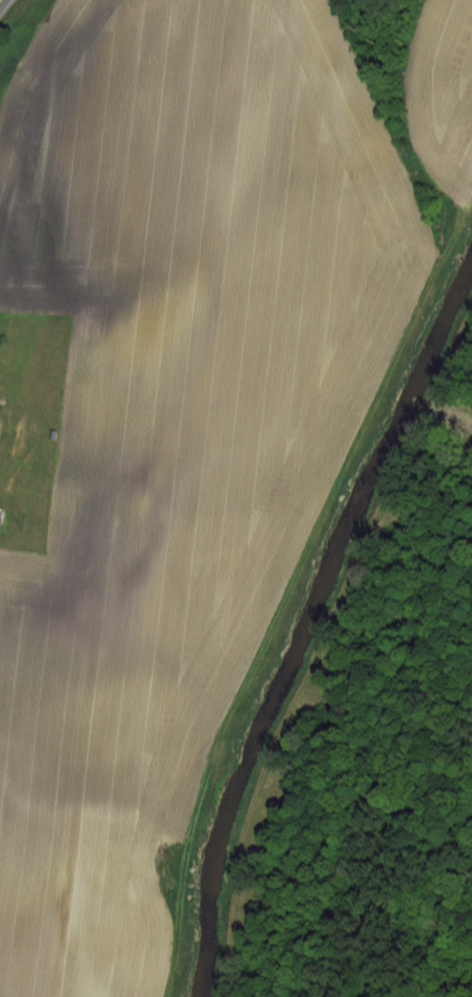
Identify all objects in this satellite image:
road: (1, 1)
river: (305, 618)

